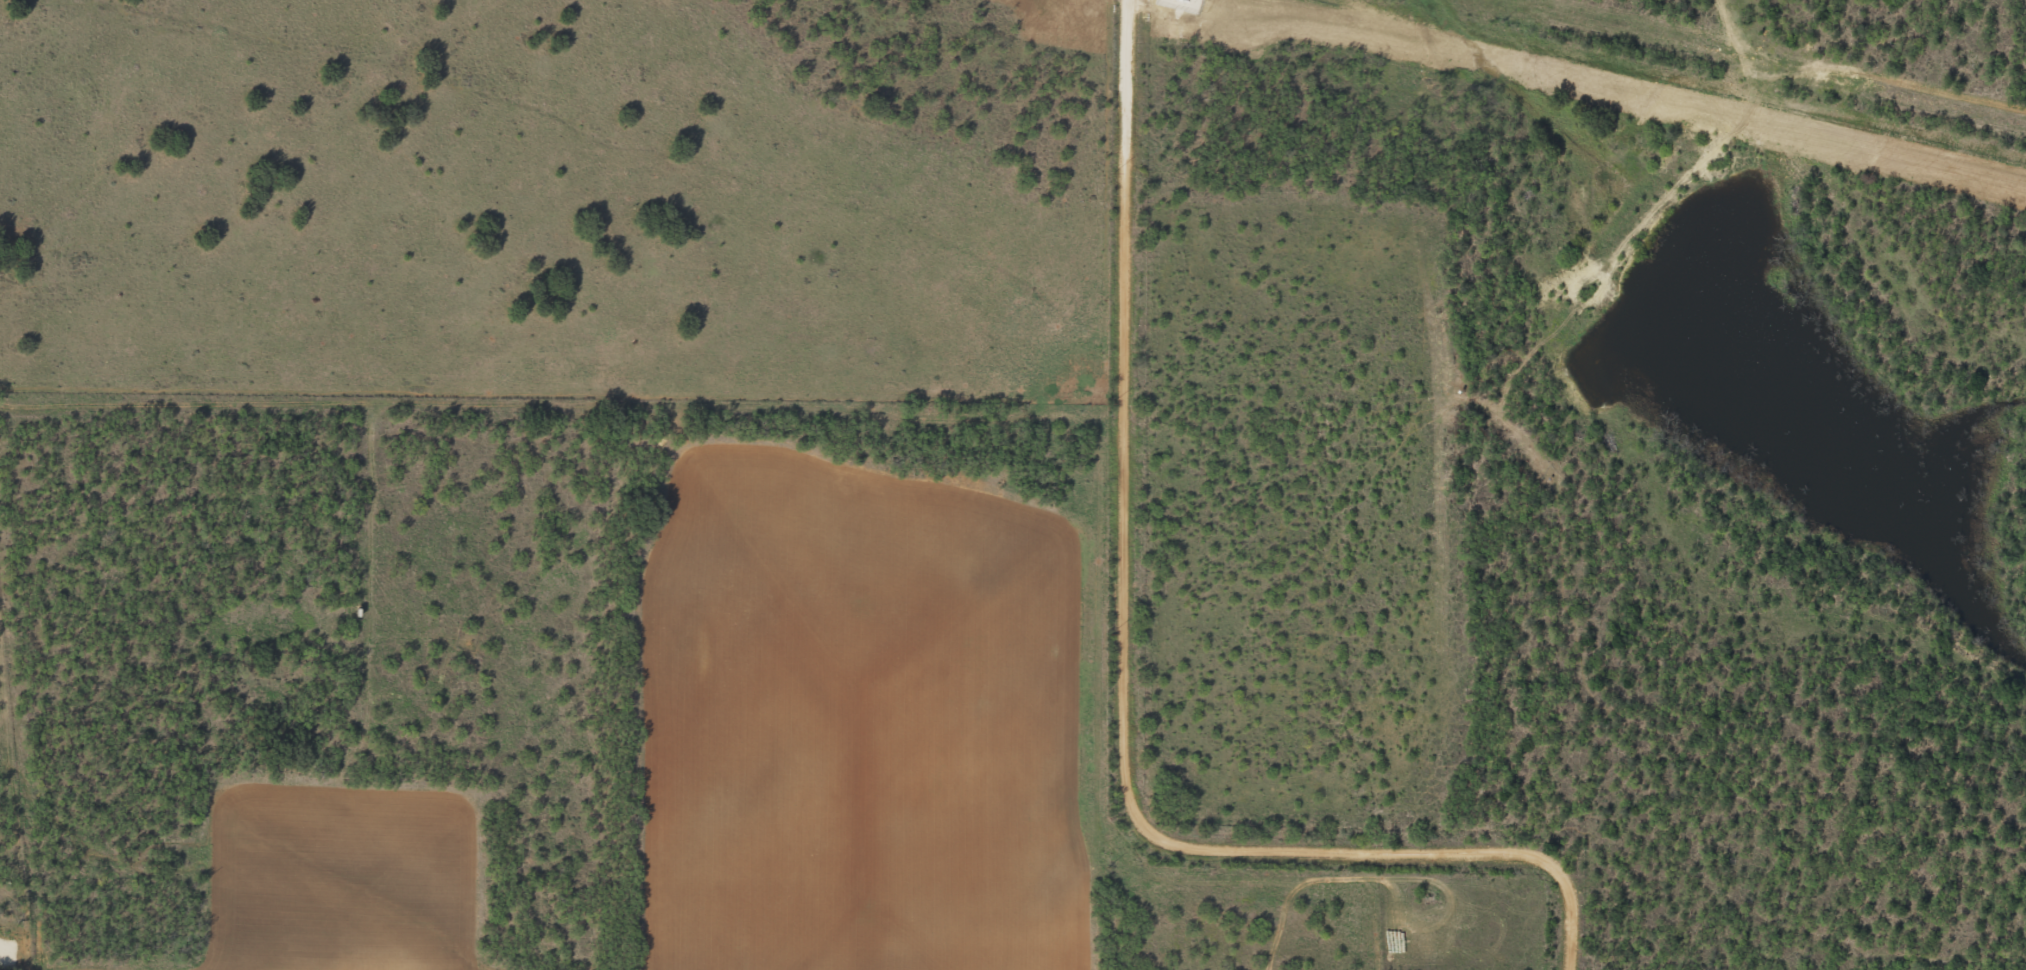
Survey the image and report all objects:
road: (1122, 677)

